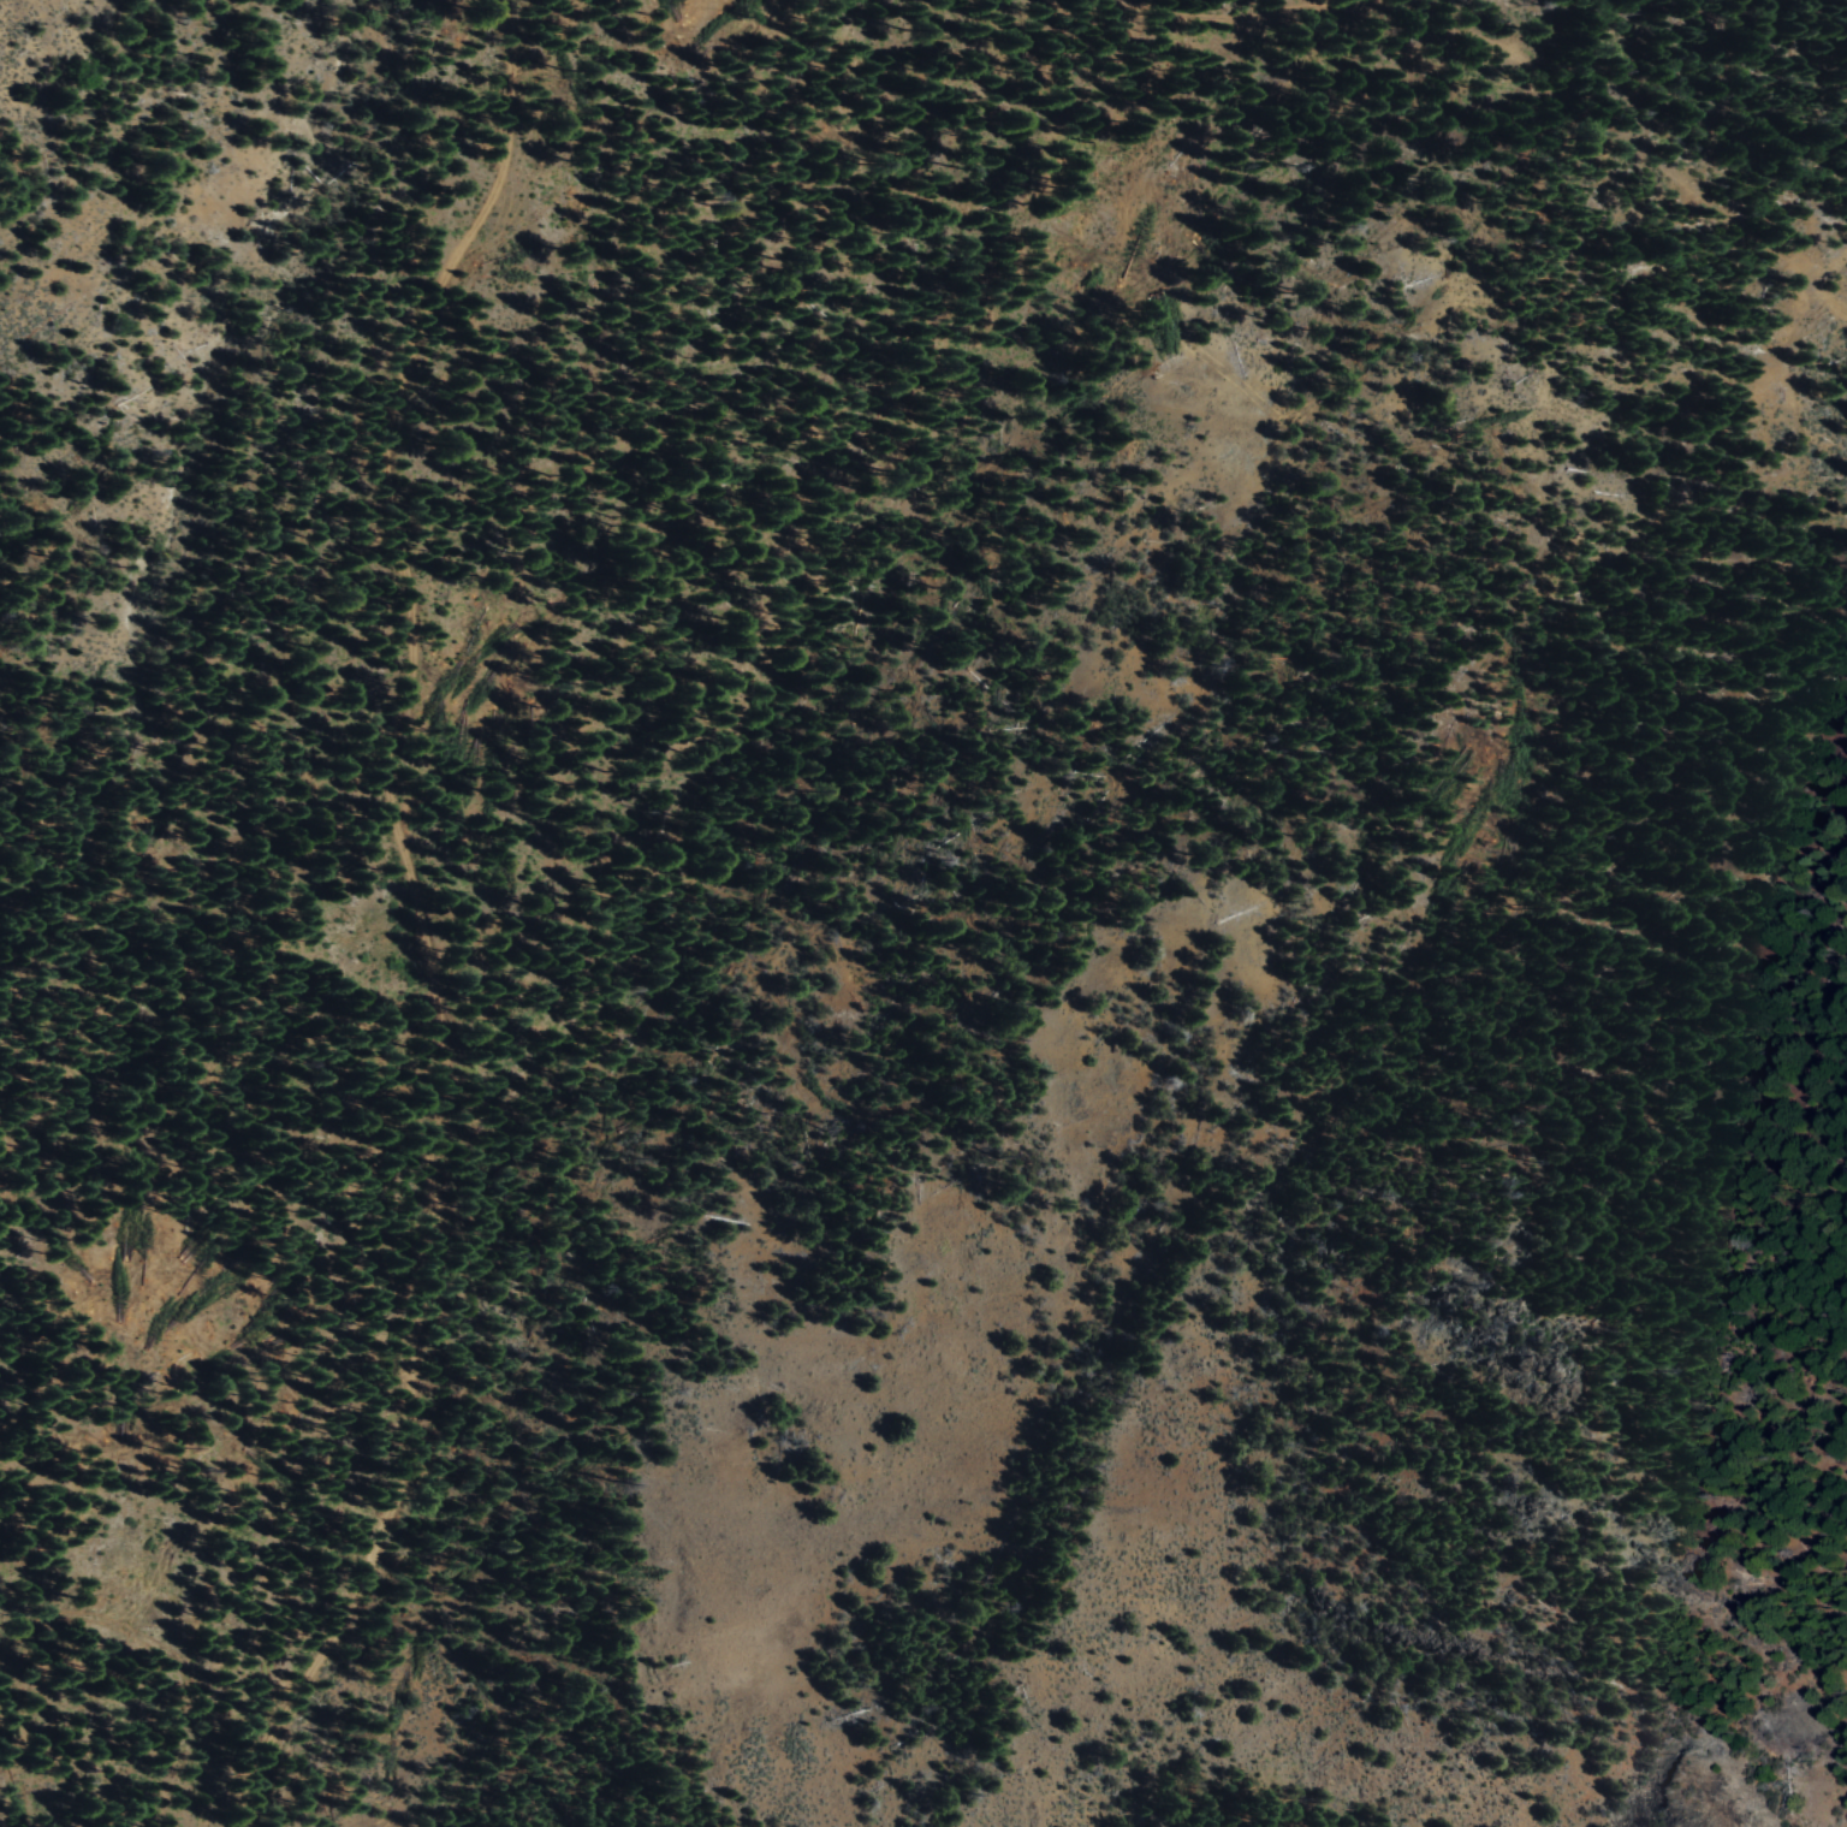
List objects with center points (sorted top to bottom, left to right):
road: (1419, 10)
road: (1758, 223)
road: (418, 917)

